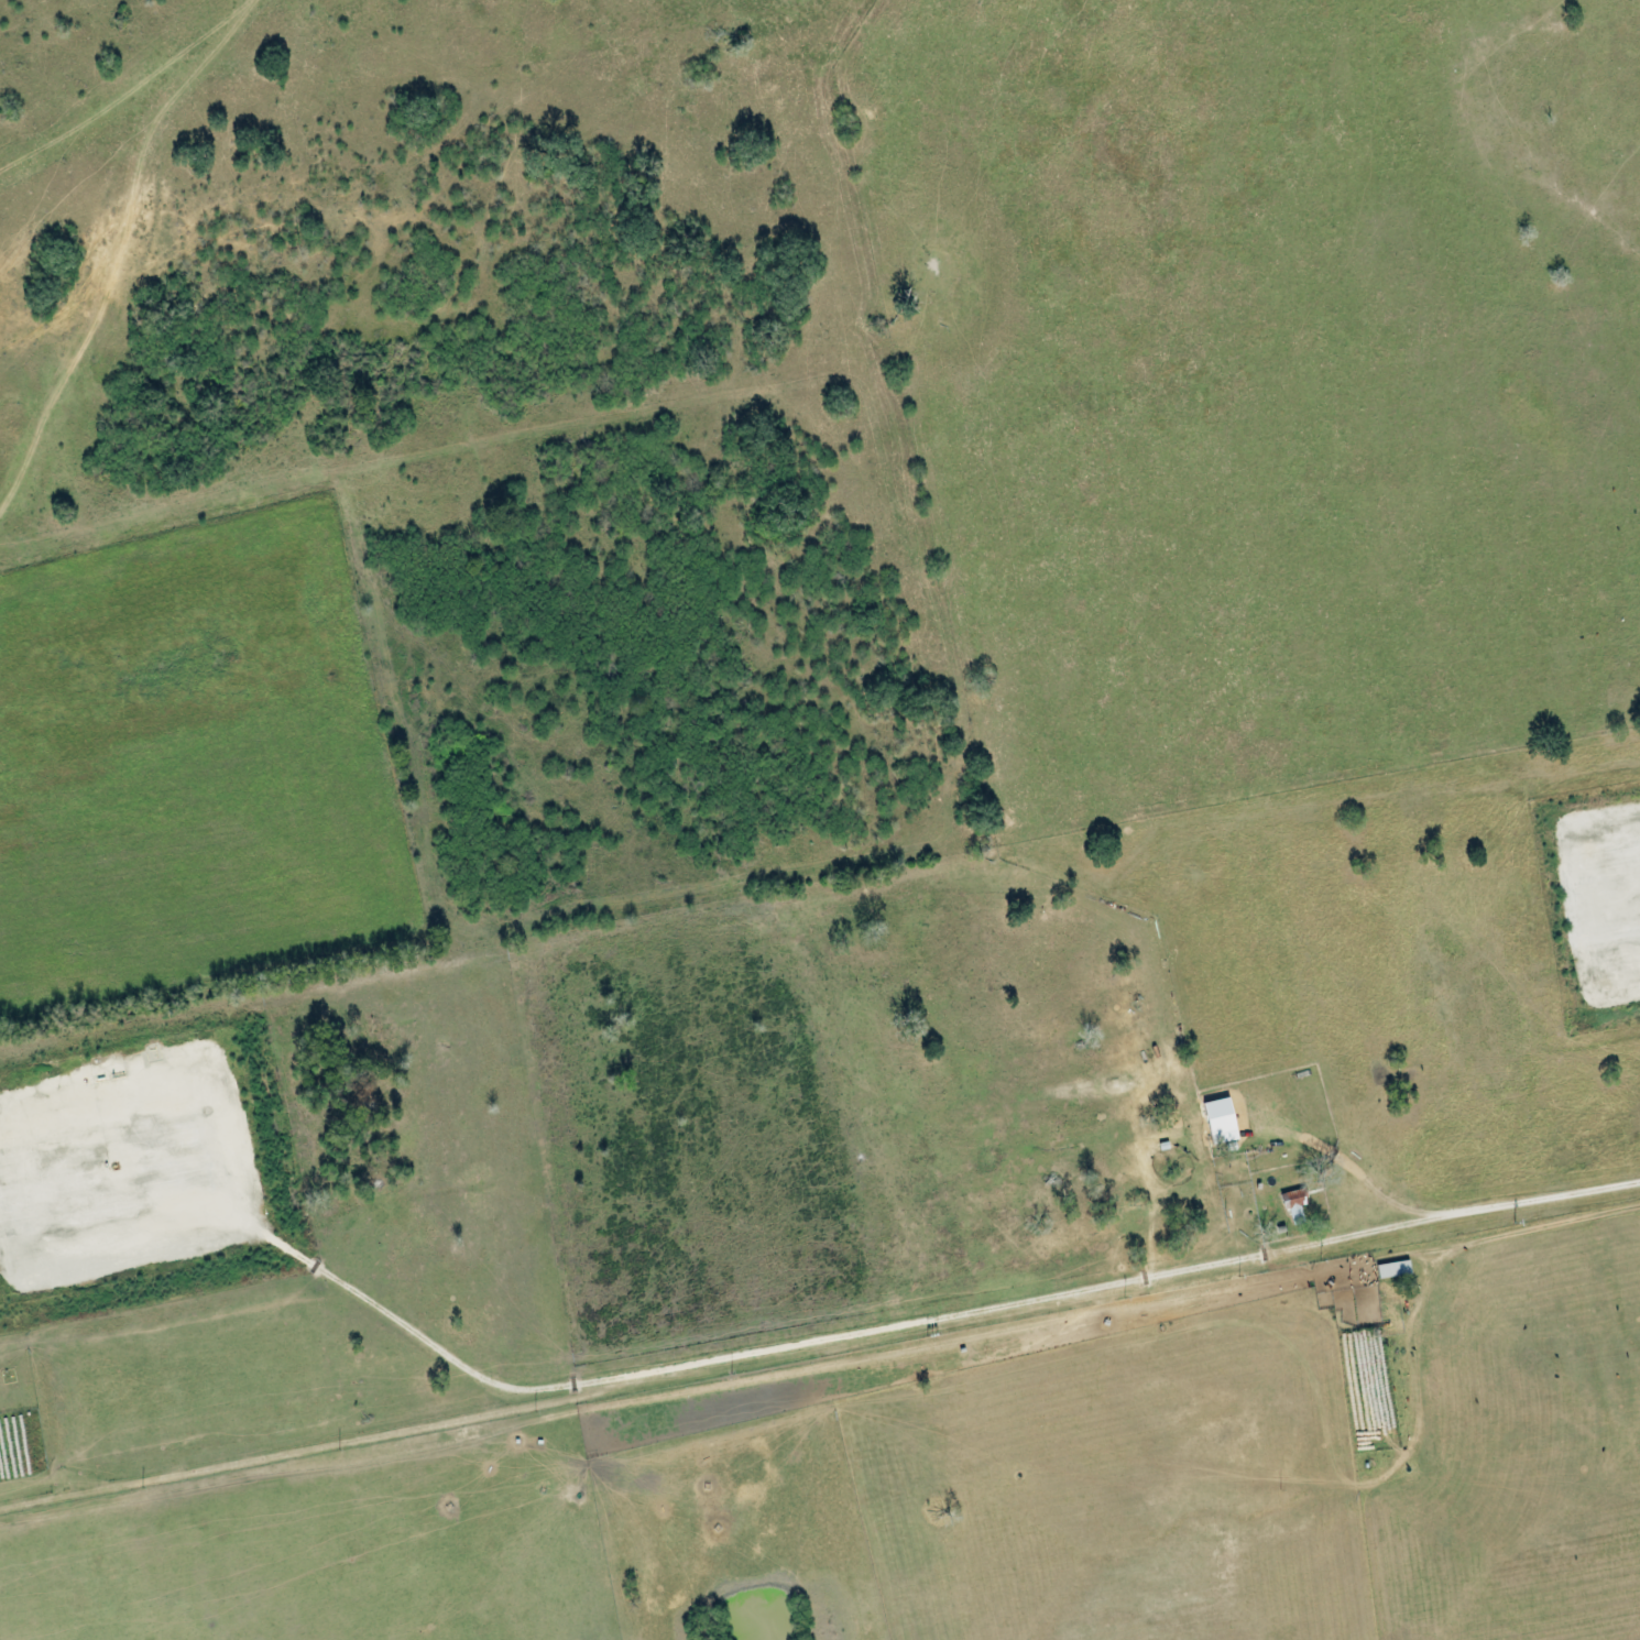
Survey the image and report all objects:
road: (112, 236)
building: (1217, 1122)
petroleum well: (122, 1169)
road: (1464, 1261)

